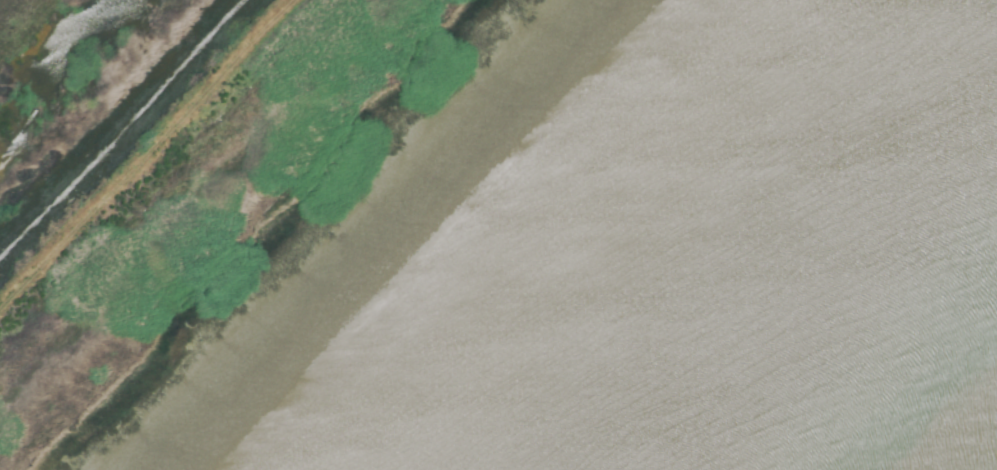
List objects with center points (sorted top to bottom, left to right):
road: (149, 155)

